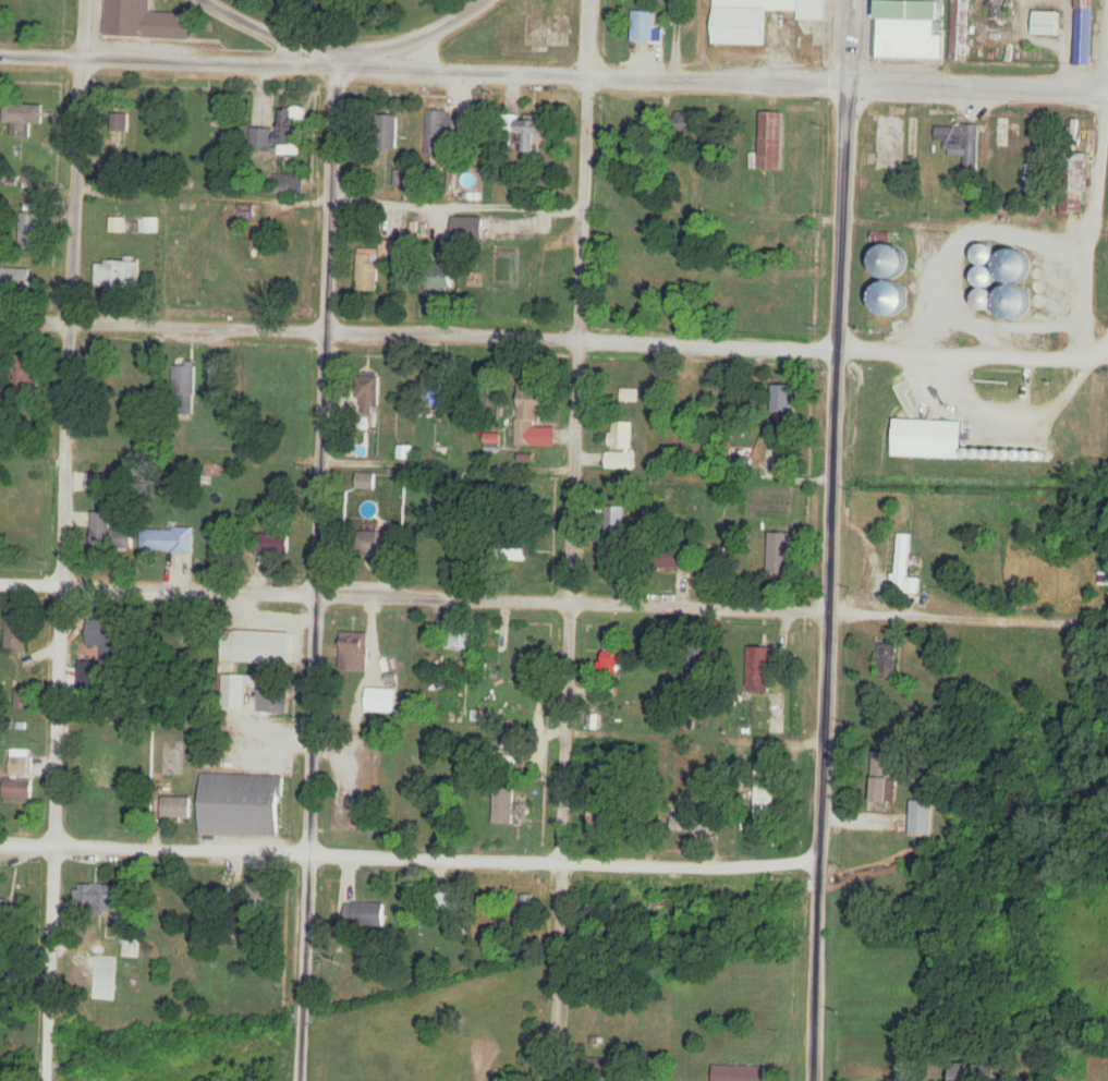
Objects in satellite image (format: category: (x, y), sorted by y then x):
building: (812, 10)
building: (998, 11)
park: (342, 15)
building: (143, 21)
building: (744, 21)
building: (1047, 24)
road: (334, 25)
building: (643, 27)
building: (909, 29)
building: (958, 31)
building: (1082, 32)
road: (341, 51)
road: (553, 75)
building: (22, 113)
building: (686, 124)
building: (115, 131)
building: (387, 131)
building: (441, 132)
building: (525, 132)
building: (279, 133)
building: (772, 141)
building: (961, 144)
road: (845, 174)
building: (289, 184)
building: (32, 222)
road: (1095, 233)
building: (178, 256)
building: (899, 265)
building: (367, 271)
building: (119, 274)
building: (439, 276)
building: (15, 279)
building: (988, 297)
road: (553, 339)
building: (28, 376)
building: (184, 386)
building: (473, 390)
building: (435, 391)
building: (696, 393)
building: (368, 394)
building: (783, 401)
building: (527, 412)
building: (621, 436)
building: (930, 438)
building: (620, 461)
building: (366, 482)
building: (97, 483)
building: (614, 520)
building: (109, 534)
road: (64, 540)
building: (168, 540)
road: (573, 540)
building: (273, 544)
building: (377, 544)
building: (614, 551)
building: (779, 554)
building: (515, 555)
building: (675, 558)
building: (898, 560)
road: (316, 566)
road: (415, 596)
building: (16, 634)
building: (459, 636)
building: (275, 637)
building: (106, 640)
building: (494, 644)
building: (354, 652)
building: (614, 656)
building: (887, 661)
building: (762, 669)
building: (21, 699)
building: (272, 699)
road: (826, 715)
building: (21, 765)
building: (881, 777)
building: (17, 790)
building: (764, 793)
building: (241, 805)
building: (503, 806)
building: (176, 807)
building: (921, 818)
building: (596, 825)
building: (690, 826)
road: (410, 854)
building: (257, 897)
building: (96, 898)
building: (671, 904)
building: (597, 908)
building: (525, 909)
building: (10, 912)
building: (365, 914)
building: (133, 958)
building: (739, 1073)

